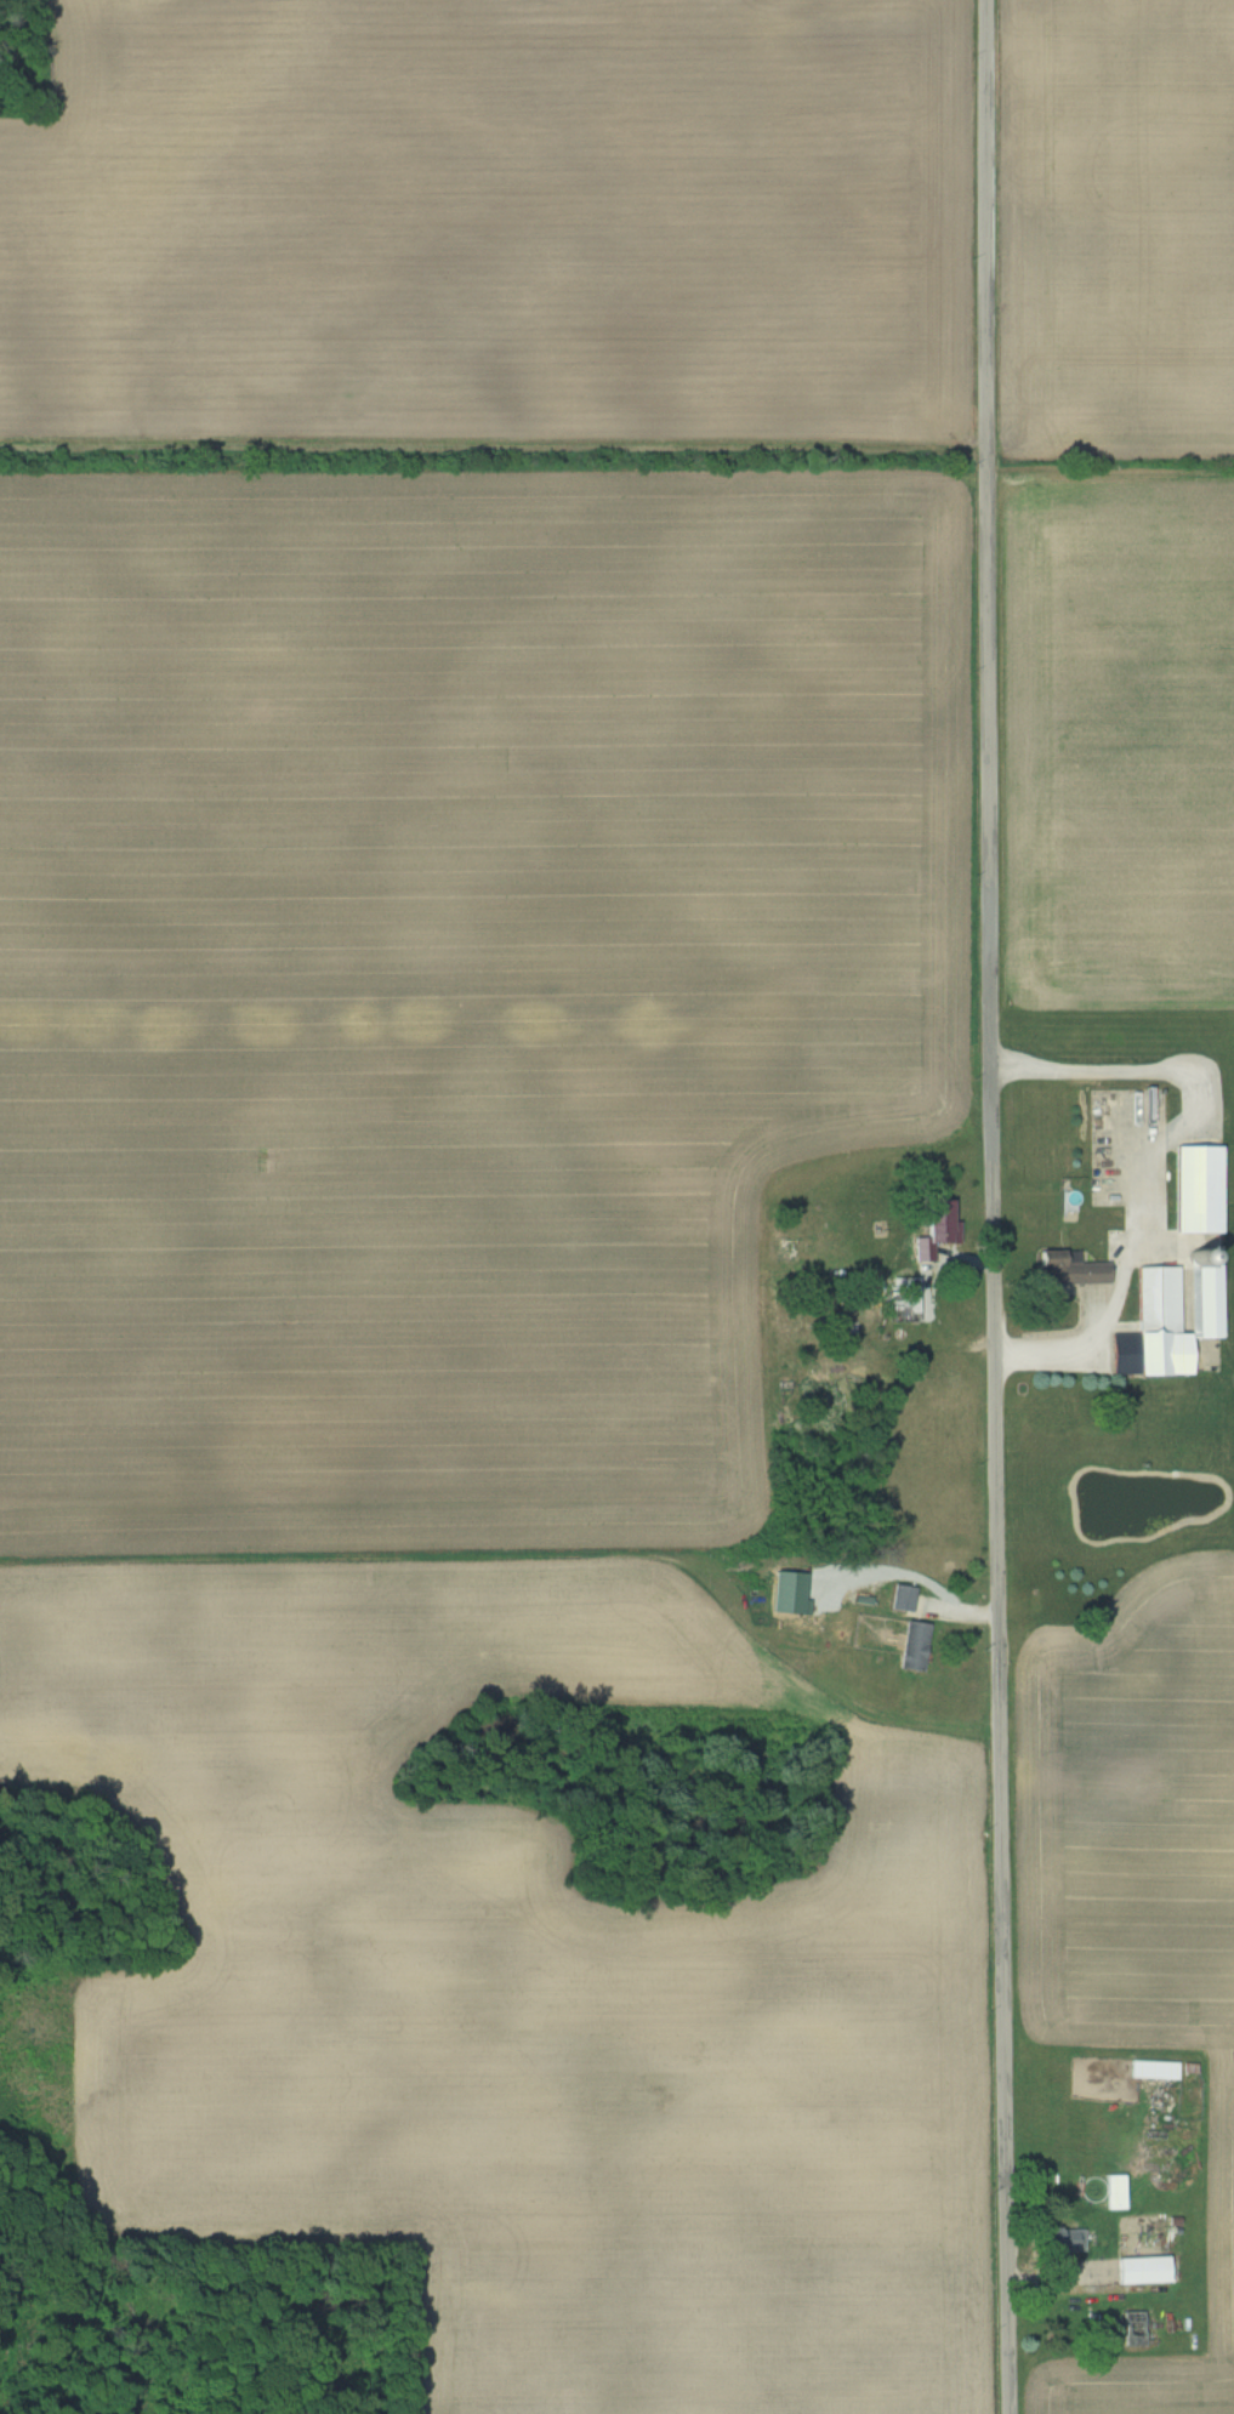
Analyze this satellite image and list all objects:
road: (1150, 1155)
building: (1198, 1188)
road: (995, 1207)
building: (938, 1231)
building: (1069, 1268)
building: (906, 1299)
building: (1167, 1317)
building: (902, 1598)
building: (911, 1645)
building: (1154, 2069)
building: (1115, 2192)
building: (1063, 2241)
building: (1142, 2270)
building: (1132, 2327)

